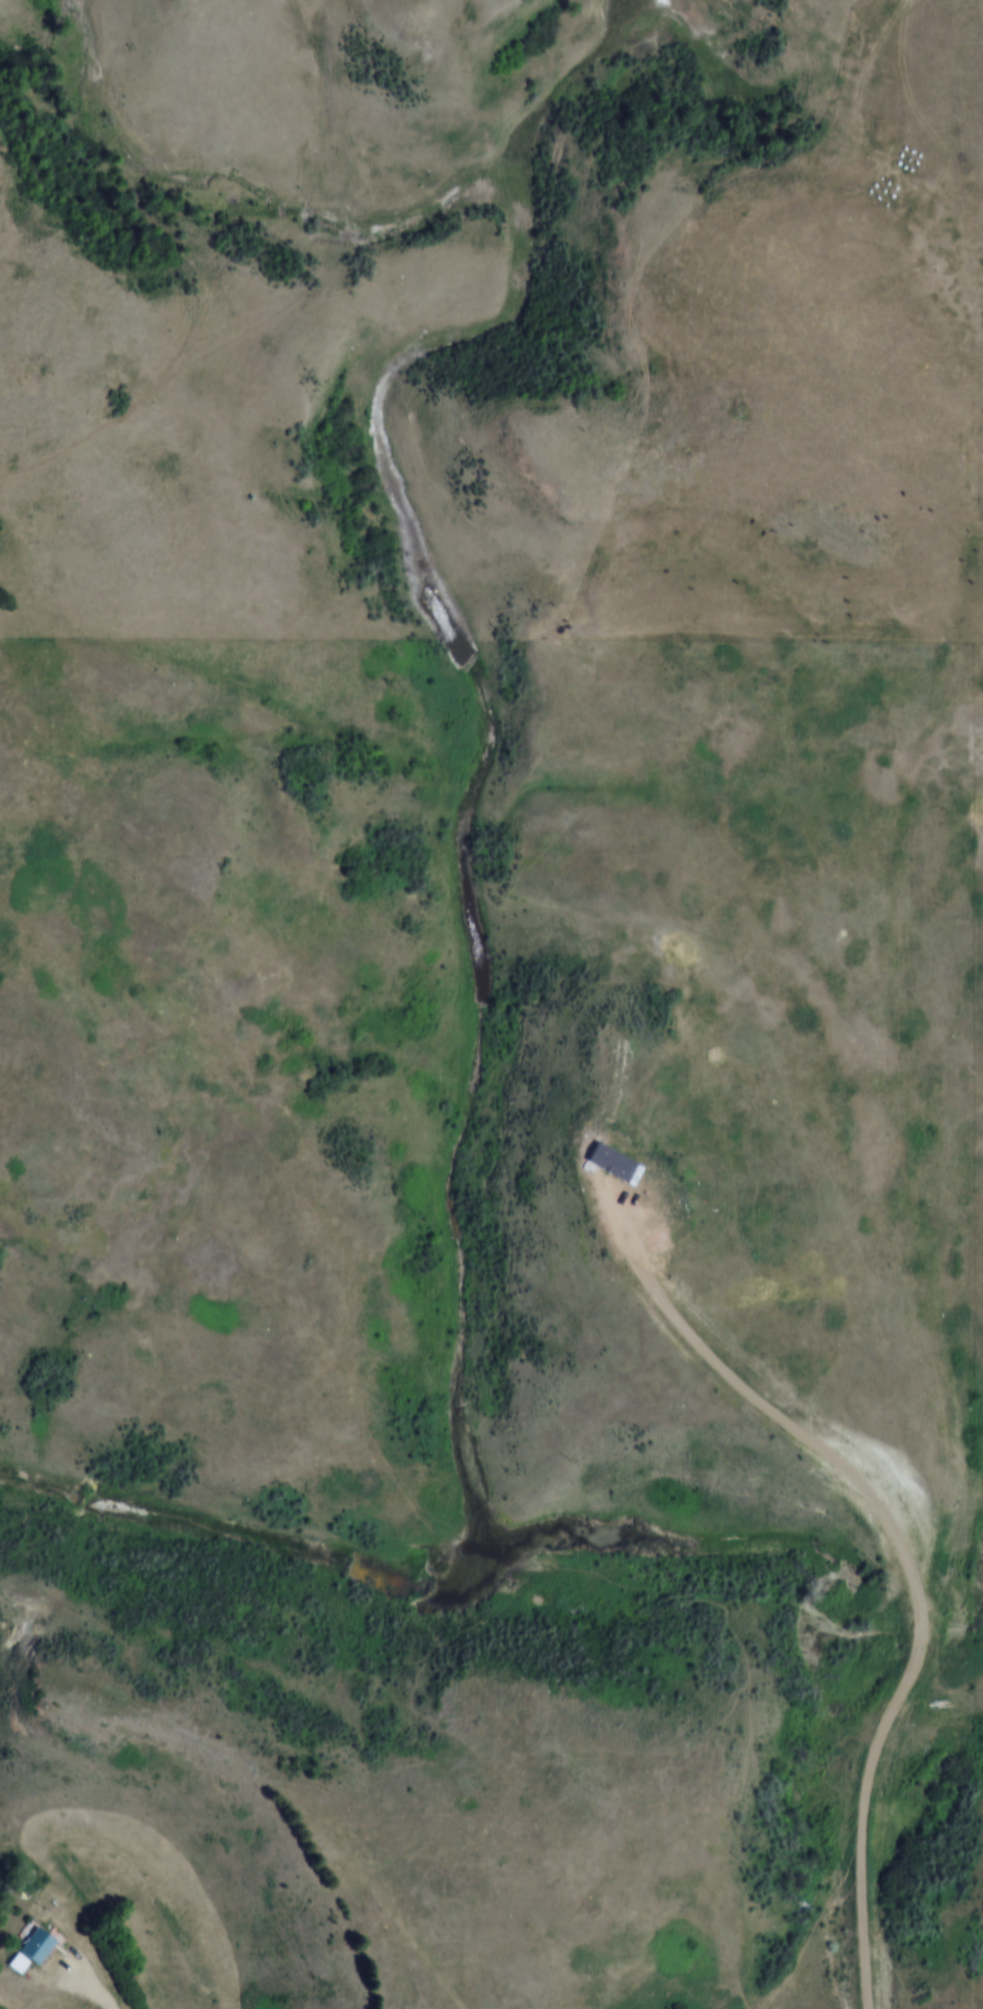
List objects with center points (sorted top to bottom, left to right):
building: (618, 1153)
road: (909, 1562)
building: (41, 1940)
building: (22, 1959)
road: (97, 1989)

